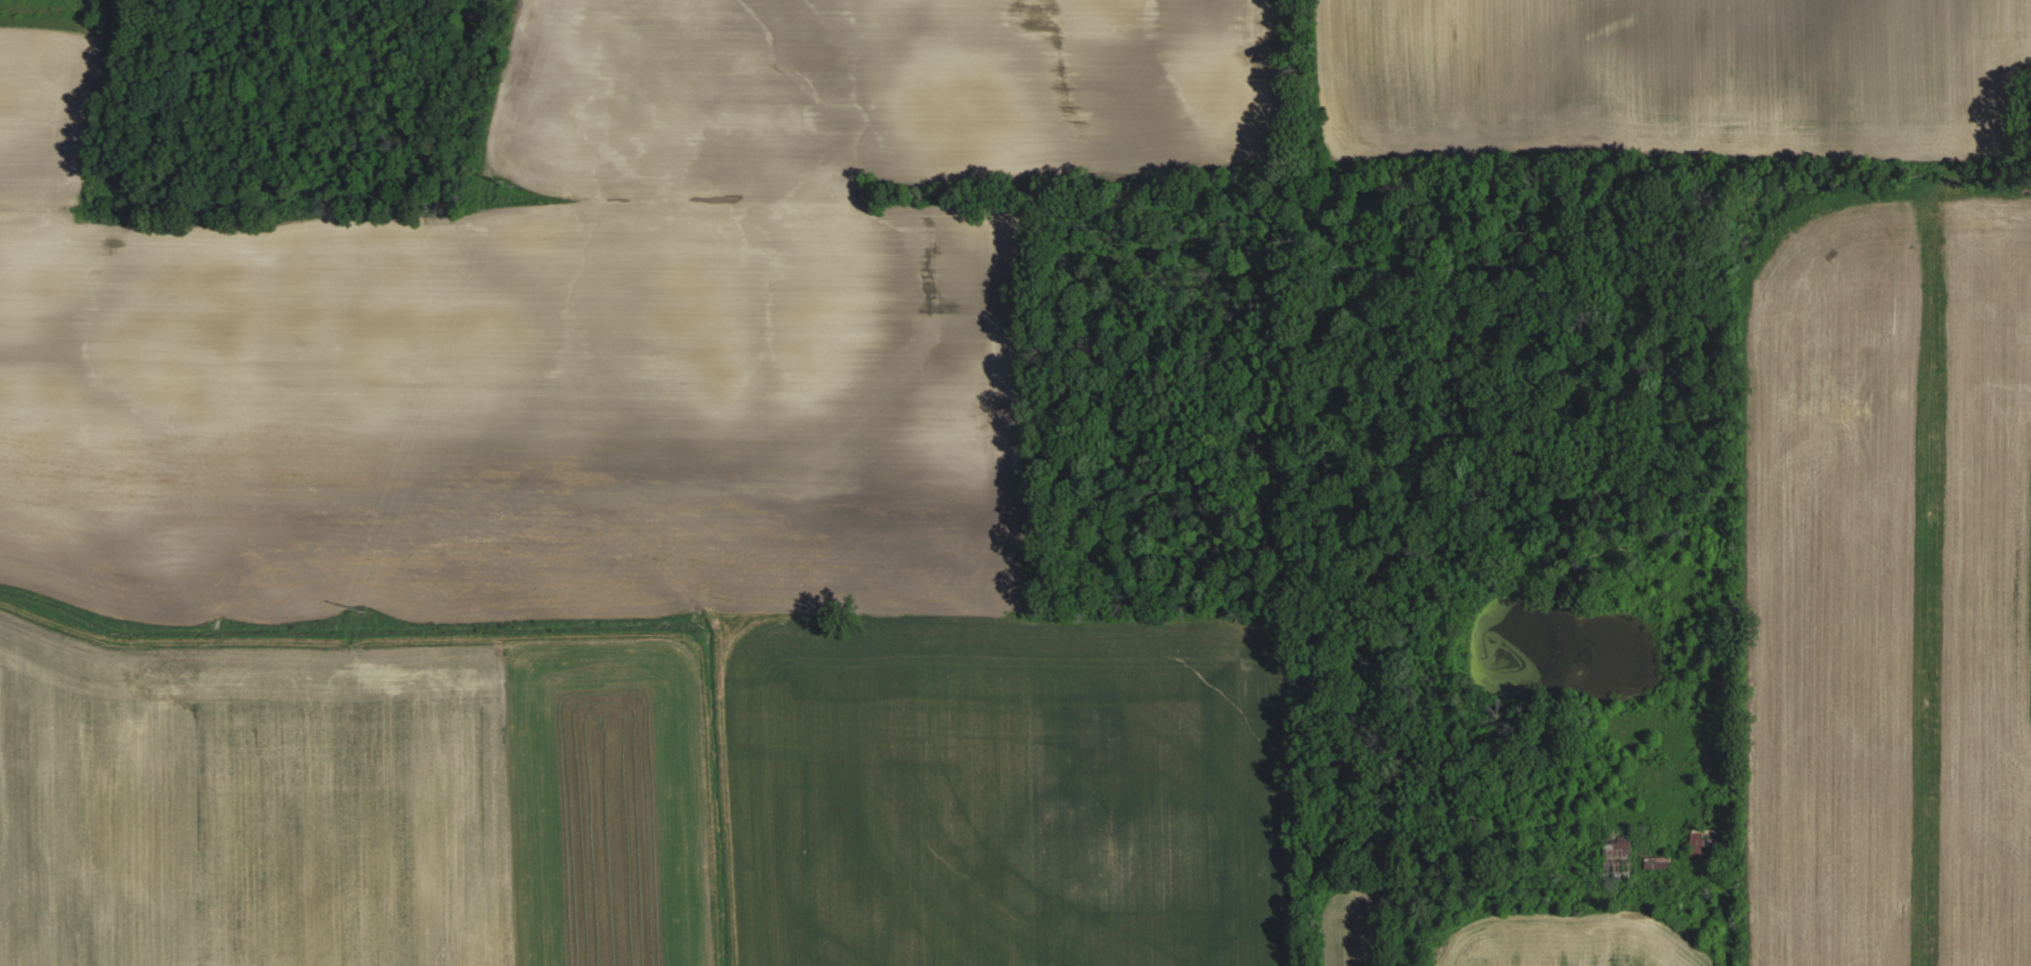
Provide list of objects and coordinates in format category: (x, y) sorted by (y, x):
power tower: (522, 194)
power tower: (372, 629)
building: (1704, 841)
building: (1618, 854)

